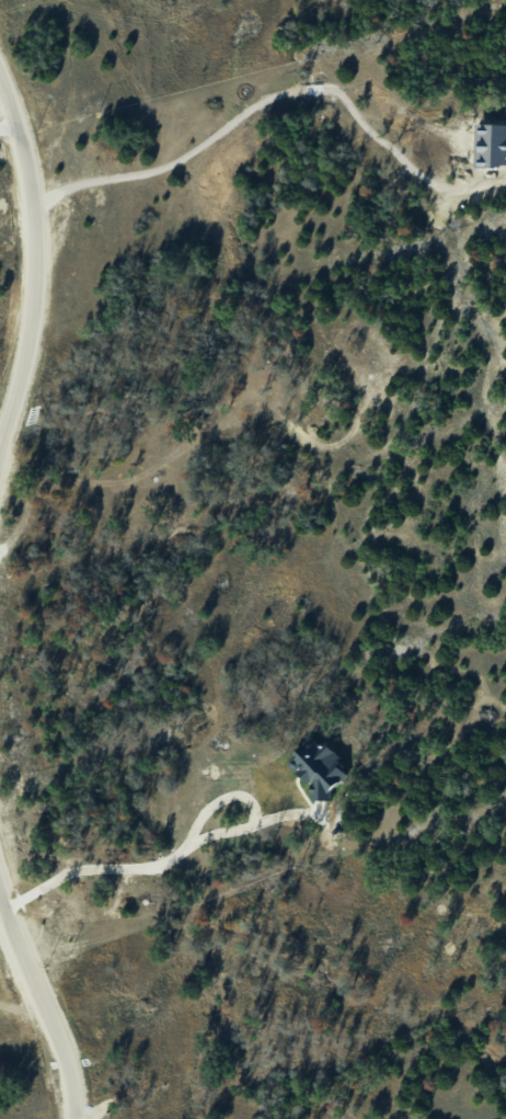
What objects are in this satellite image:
road: (8, 123)
road: (27, 250)
building: (319, 772)
road: (134, 869)
road: (36, 1005)

